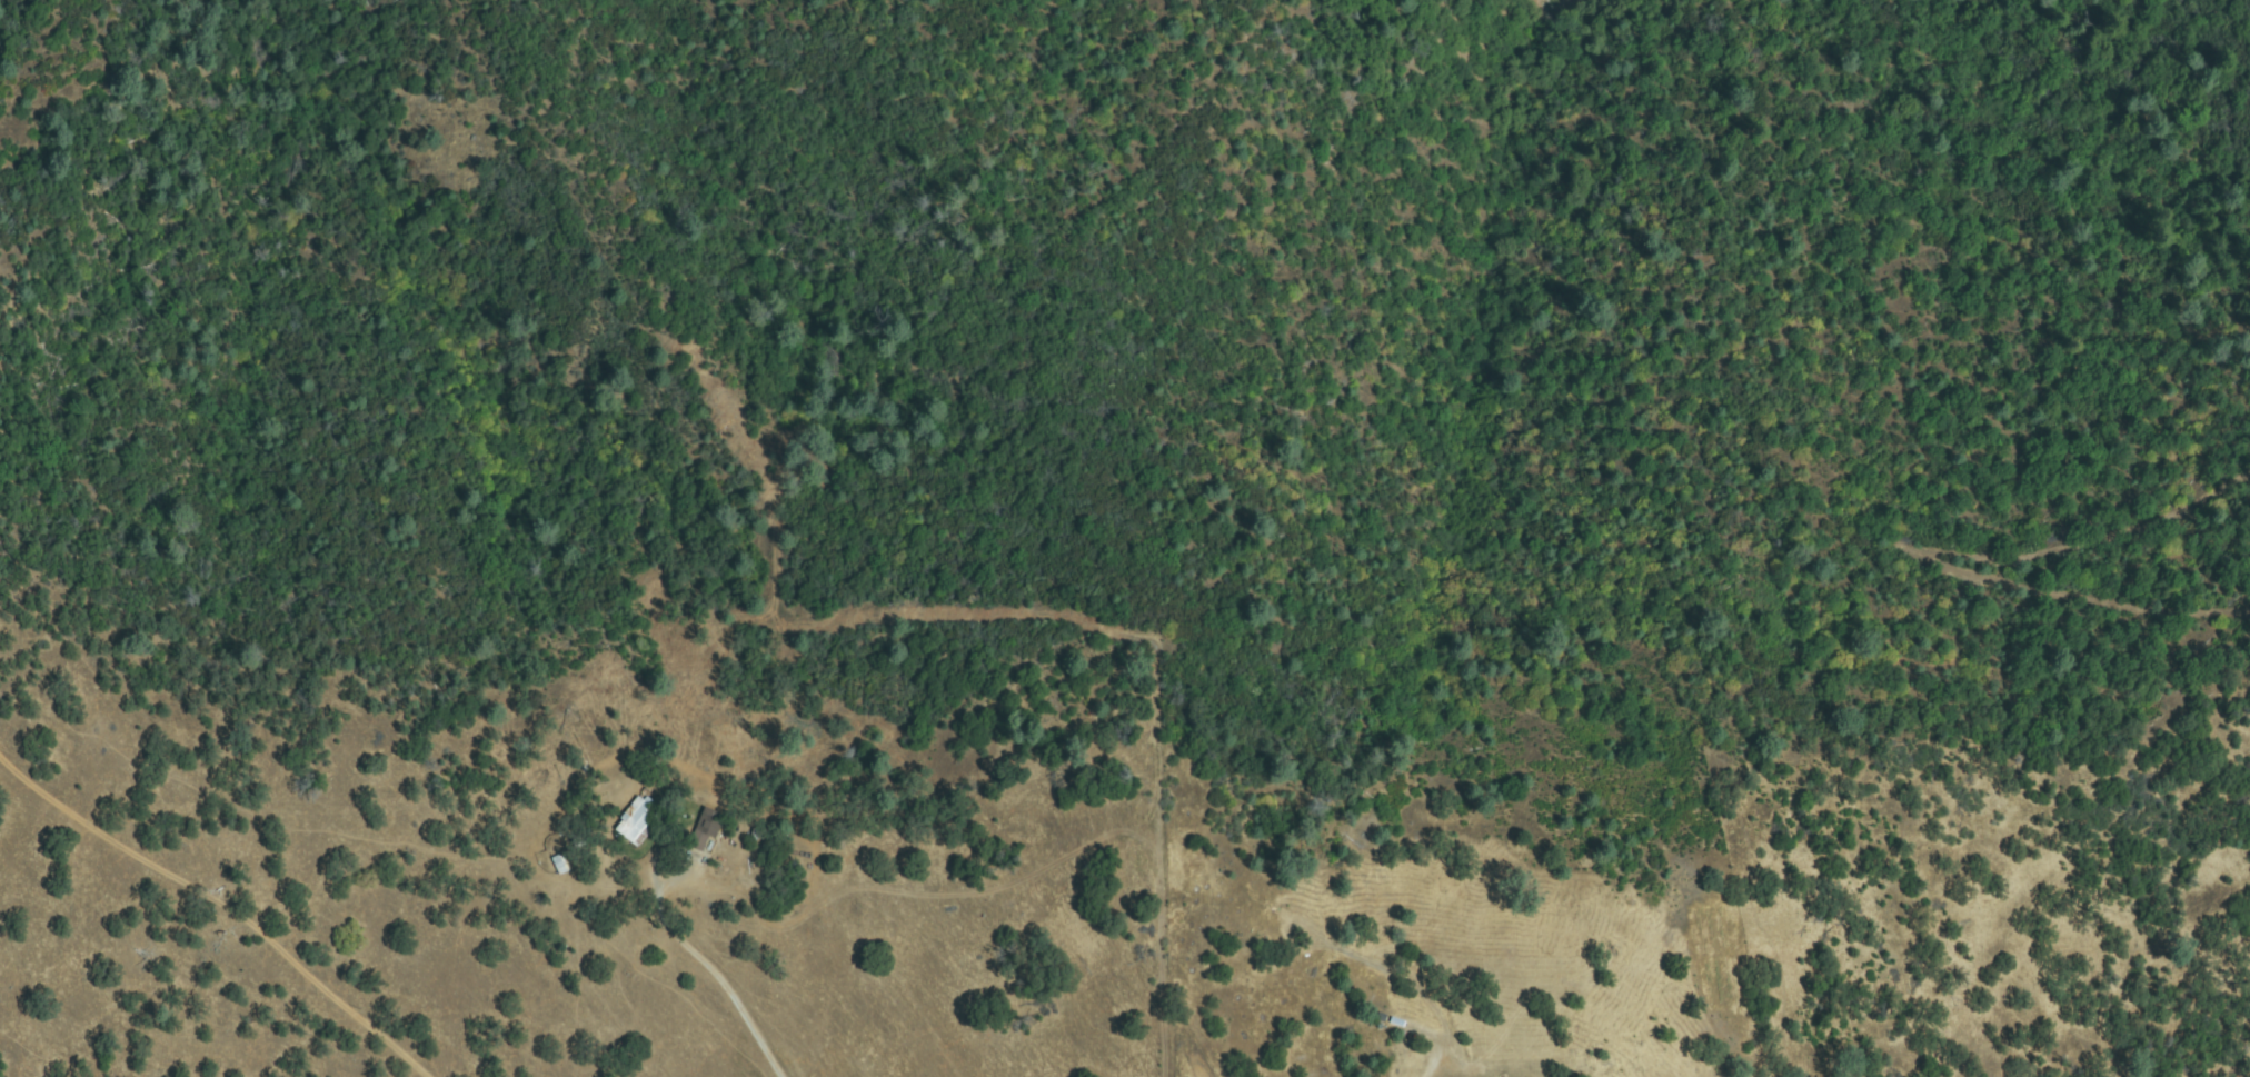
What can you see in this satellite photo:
building: (639, 821)
building: (704, 835)
building: (757, 835)
building: (579, 838)
building: (557, 862)
road: (746, 1014)

